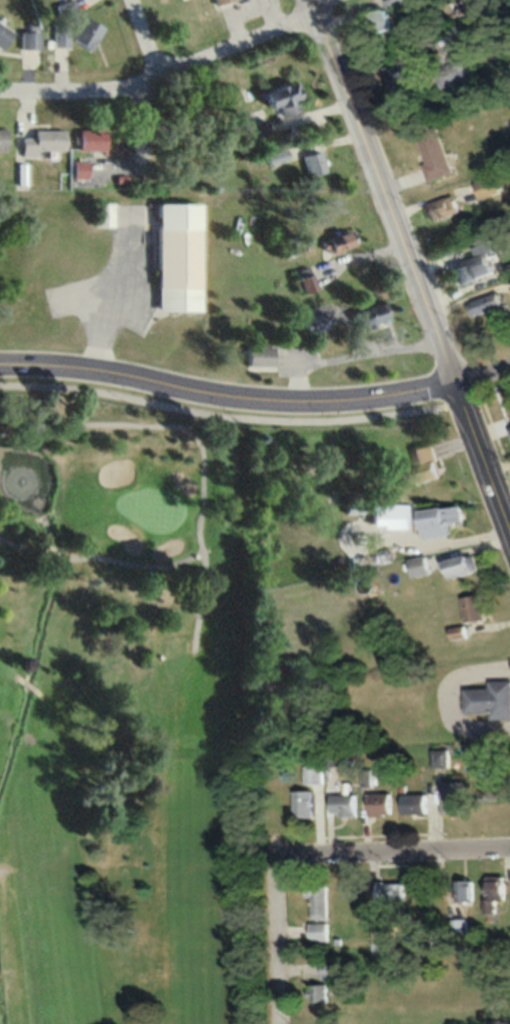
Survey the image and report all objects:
building: (221, 1)
building: (396, 2)
building: (466, 6)
building: (65, 9)
building: (384, 21)
building: (87, 33)
building: (4, 35)
building: (58, 35)
building: (29, 39)
road: (144, 40)
building: (408, 72)
building: (454, 73)
road: (171, 74)
building: (284, 98)
building: (258, 128)
road: (145, 137)
building: (2, 139)
building: (92, 141)
building: (42, 142)
building: (436, 153)
building: (314, 163)
building: (79, 170)
building: (487, 187)
road: (381, 189)
building: (443, 208)
building: (103, 215)
building: (337, 243)
building: (179, 257)
building: (480, 262)
building: (305, 280)
building: (488, 305)
building: (314, 323)
building: (260, 356)
road: (481, 370)
road: (225, 394)
road: (220, 415)
road: (197, 447)
road: (481, 453)
building: (428, 461)
park: (149, 508)
building: (396, 515)
building: (443, 519)
road: (17, 547)
road: (47, 554)
road: (129, 564)
building: (420, 565)
building: (462, 566)
building: (475, 607)
road: (24, 684)
building: (490, 699)
road: (4, 717)
park: (122, 719)
road: (15, 728)
road: (25, 738)
building: (340, 755)
building: (440, 757)
building: (316, 773)
building: (456, 796)
building: (308, 802)
building: (419, 802)
building: (347, 804)
building: (384, 804)
road: (392, 848)
road: (3, 868)
road: (275, 884)
building: (468, 890)
building: (498, 891)
building: (395, 892)
building: (321, 901)
building: (460, 926)
building: (321, 932)
building: (334, 968)
building: (323, 992)

